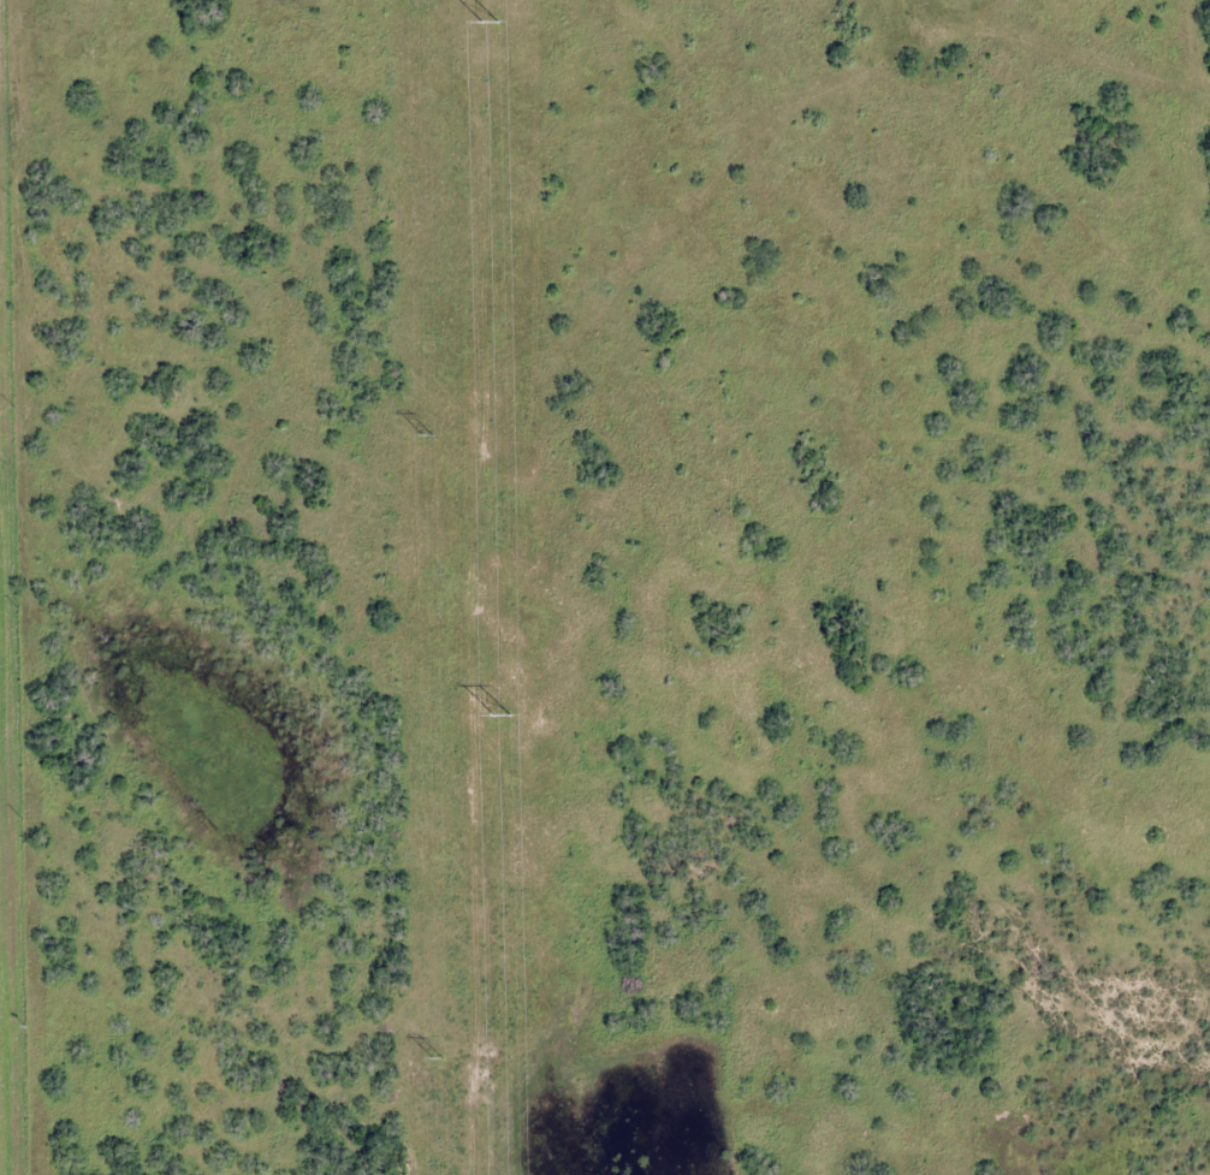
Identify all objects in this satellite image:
power tower: (486, 24)
power tower: (427, 435)
power tower: (498, 718)
power tower: (437, 1058)

